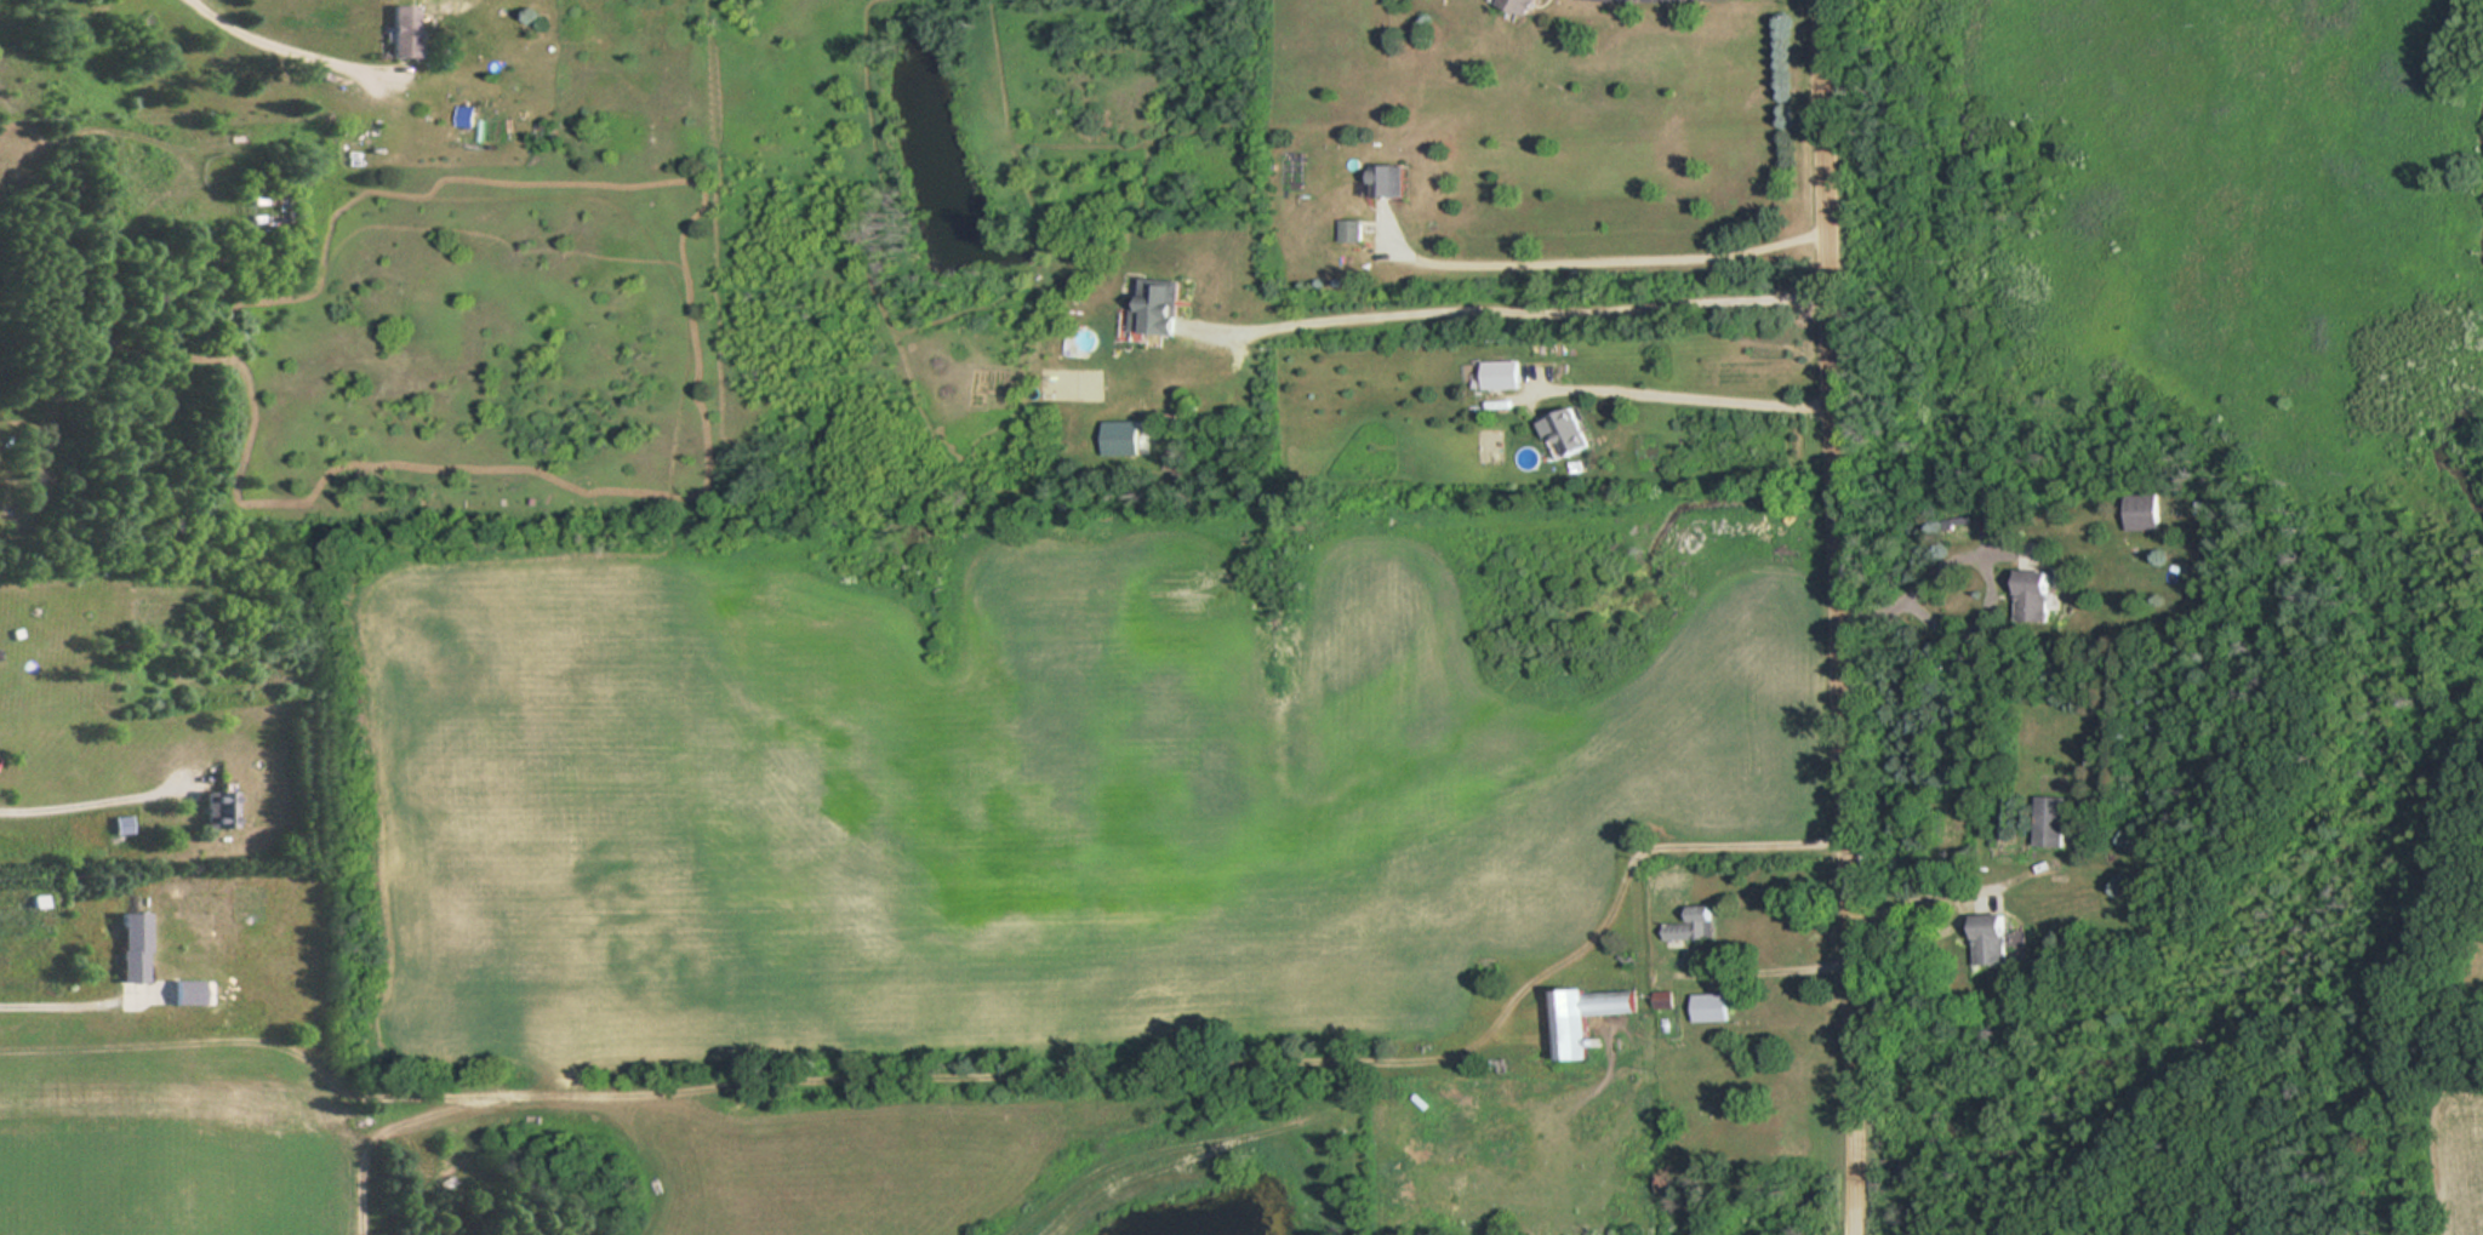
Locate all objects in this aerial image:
building: (1524, 4)
building: (404, 30)
building: (467, 115)
building: (1393, 179)
building: (1352, 229)
building: (1161, 304)
road: (1513, 308)
building: (1502, 373)
building: (1574, 430)
building: (2146, 511)
building: (2038, 595)
road: (1842, 617)
building: (222, 808)
building: (2053, 821)
building: (1694, 928)
building: (1996, 939)
building: (136, 947)
building: (189, 991)
building: (1711, 1007)
building: (1593, 1017)

